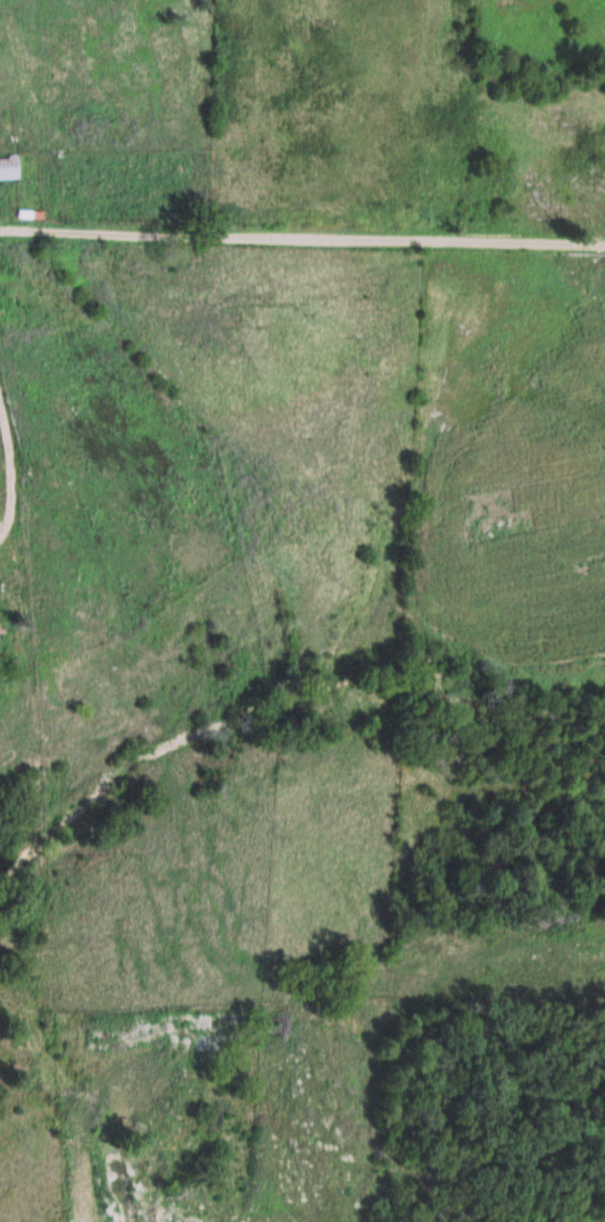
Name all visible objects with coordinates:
road: (302, 241)
road: (16, 469)

